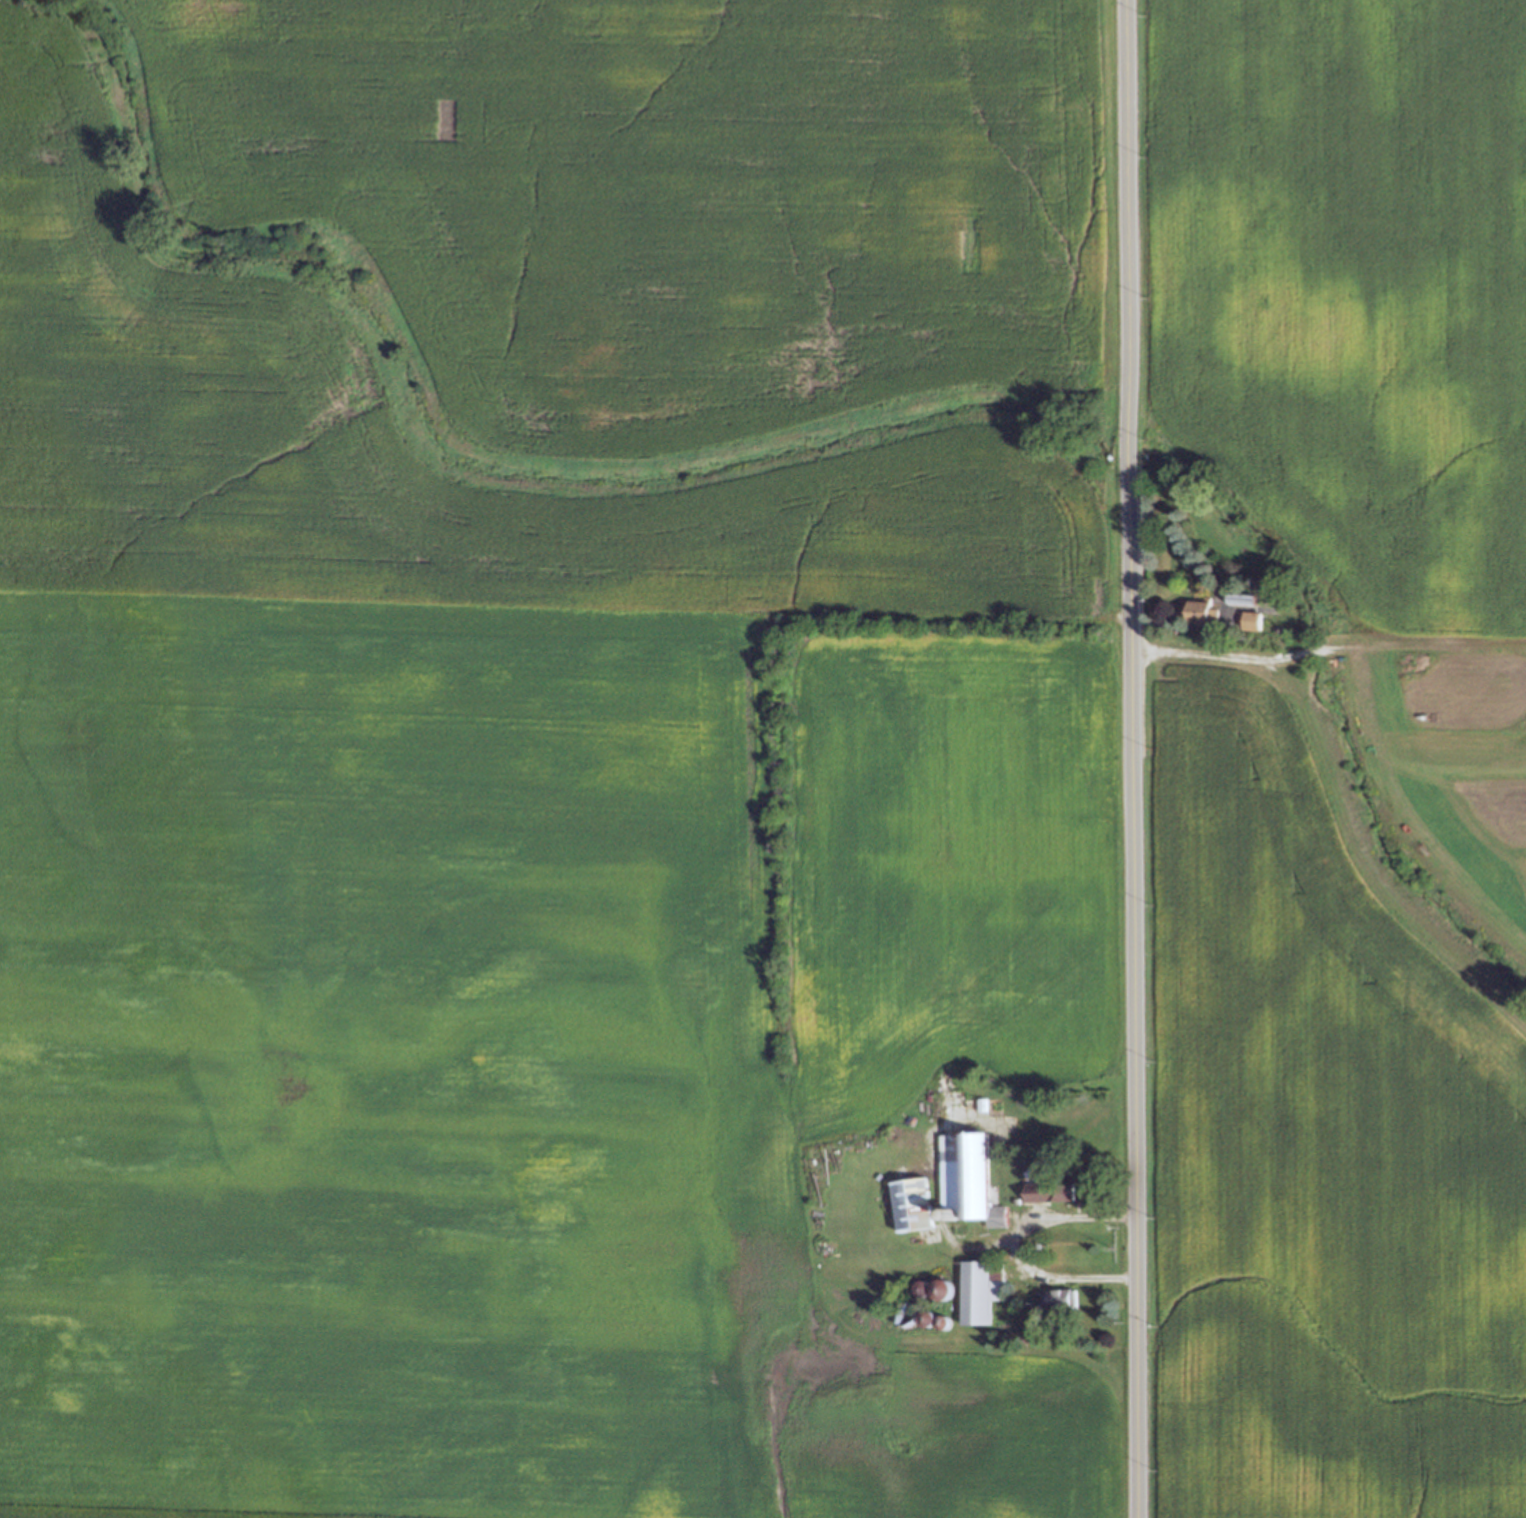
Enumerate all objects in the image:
building: (1194, 595)
building: (1240, 598)
building: (1195, 614)
building: (1248, 620)
road: (1234, 656)
crop: (533, 739)
road: (1130, 758)
crop: (1317, 1147)
building: (1008, 1156)
building: (959, 1166)
building: (1045, 1186)
building: (905, 1203)
building: (991, 1211)
building: (946, 1212)
road: (1014, 1246)
building: (915, 1285)
building: (936, 1286)
building: (973, 1288)
building: (1054, 1294)
building: (920, 1314)
building: (936, 1318)

